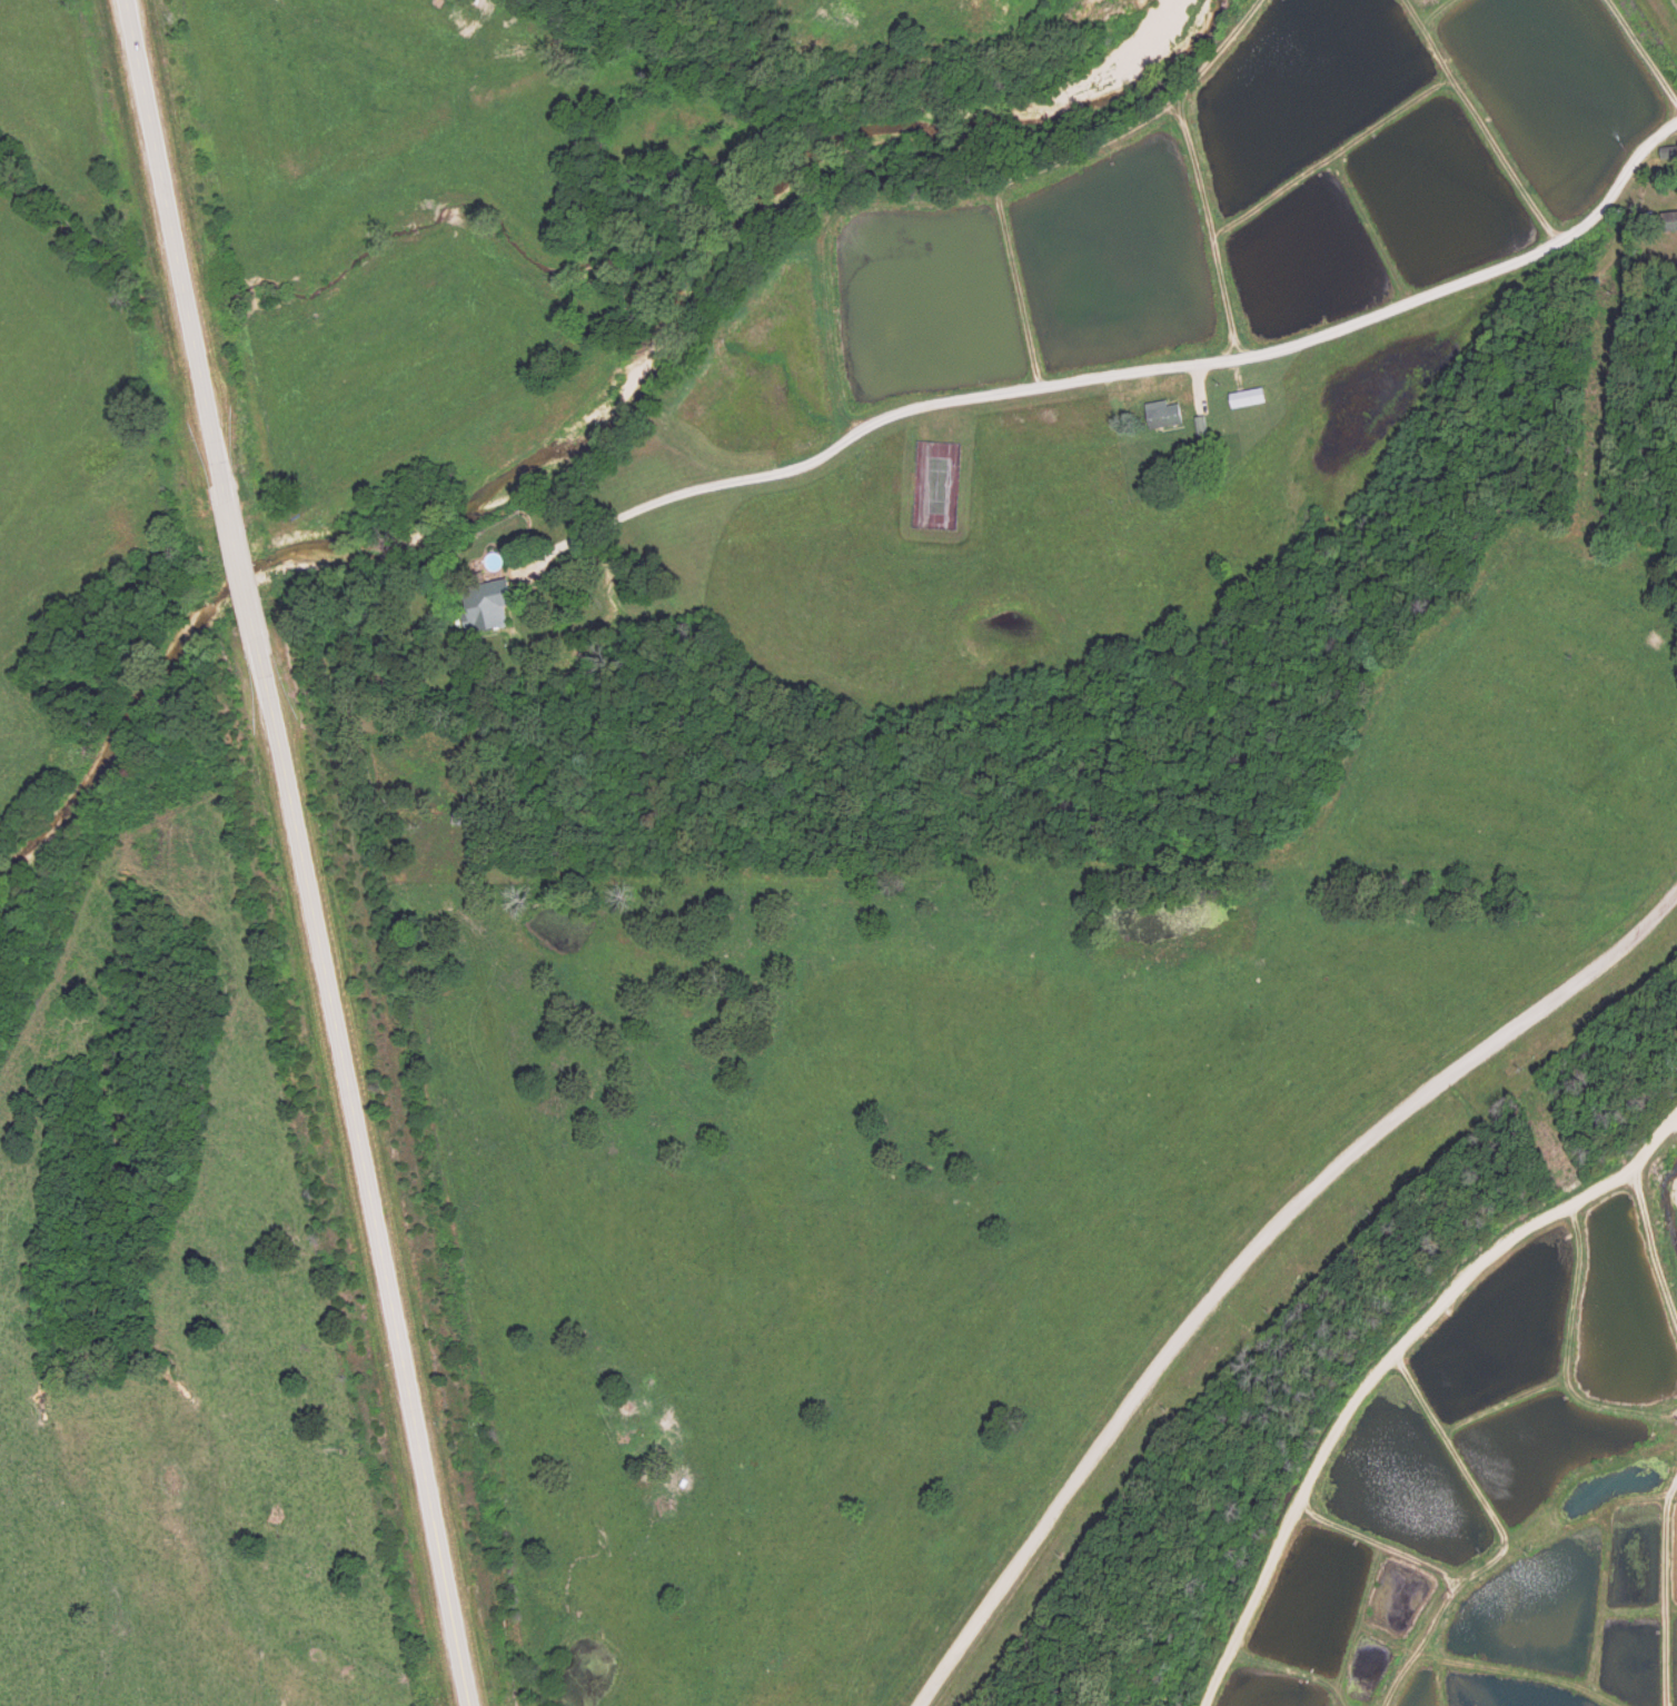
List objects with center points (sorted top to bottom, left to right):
road: (1122, 380)
building: (1247, 399)
building: (1162, 419)
road: (286, 853)
road: (1253, 1254)
road: (1373, 1359)

